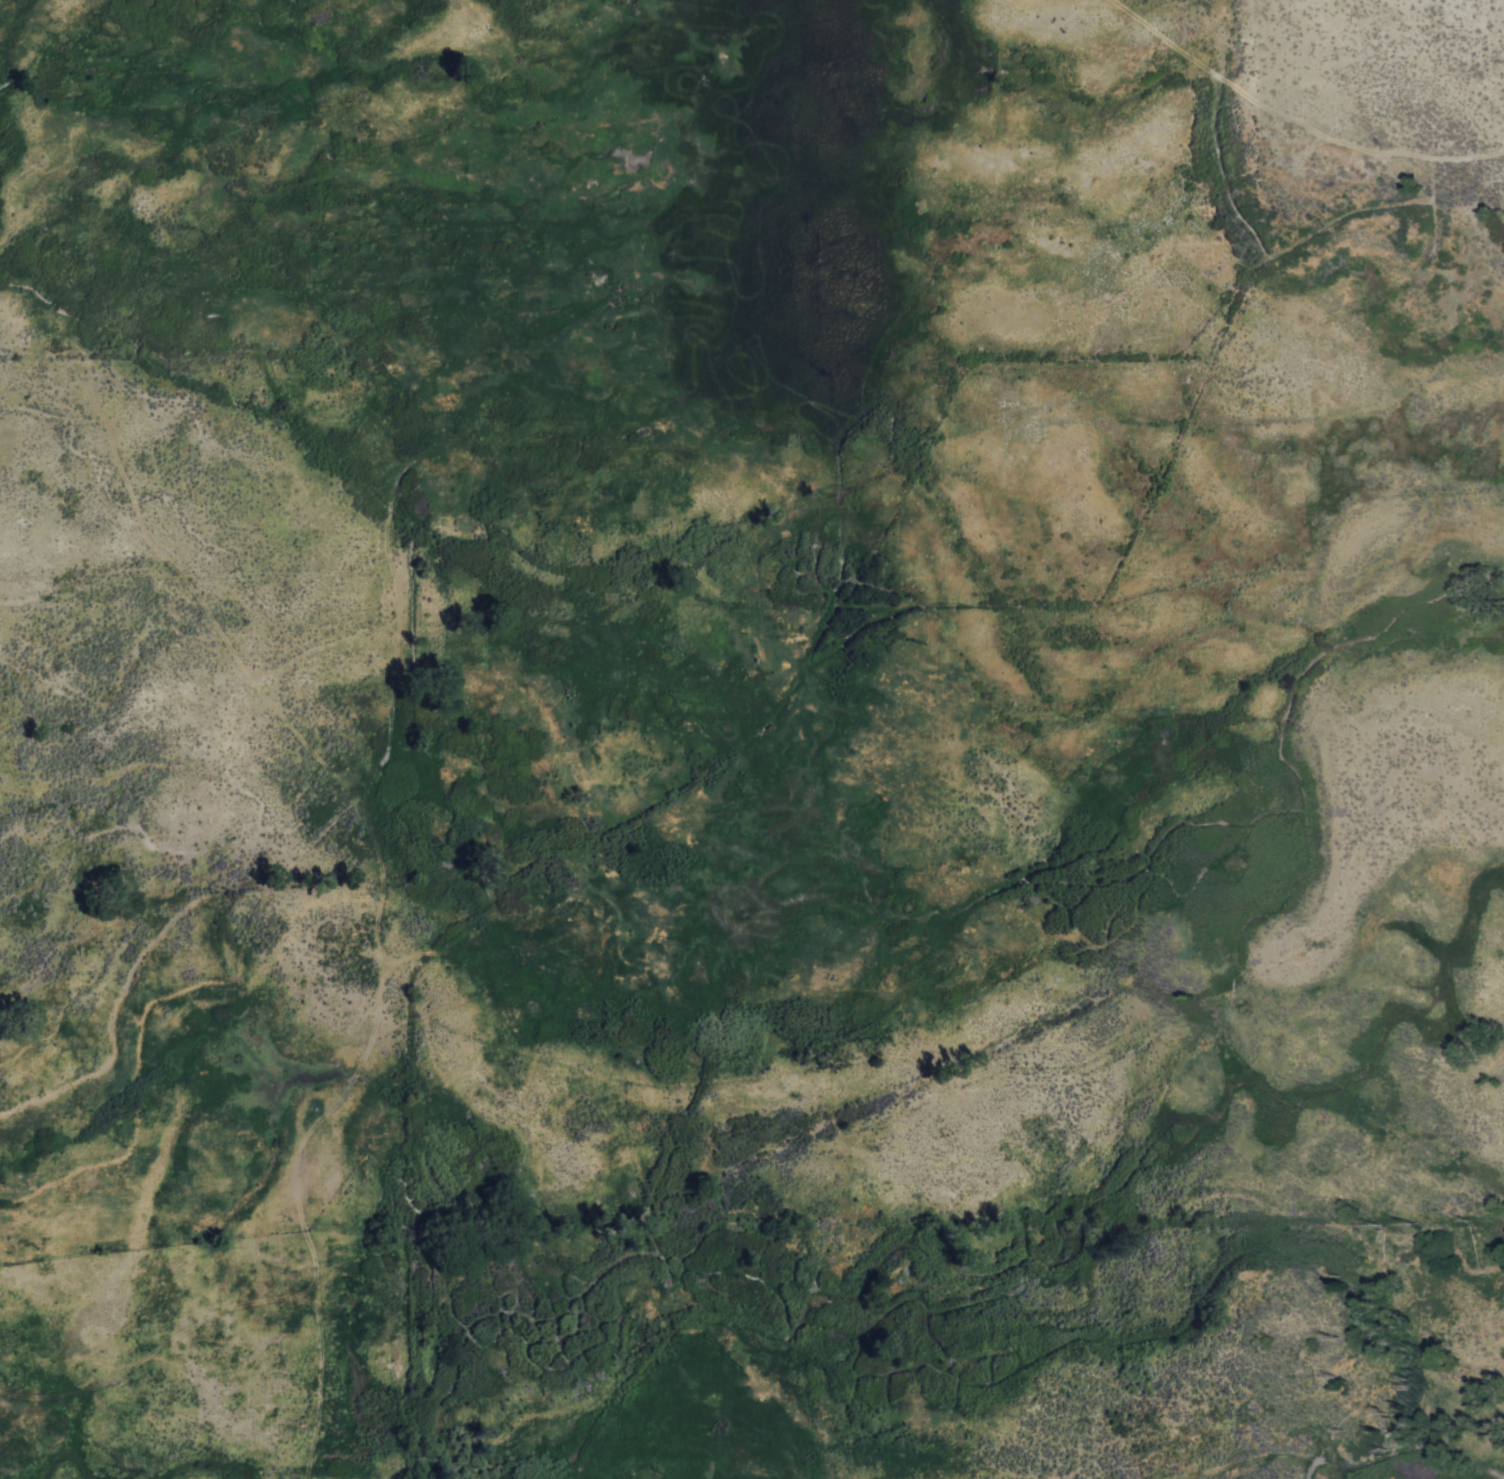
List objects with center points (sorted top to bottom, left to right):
road: (1298, 114)

